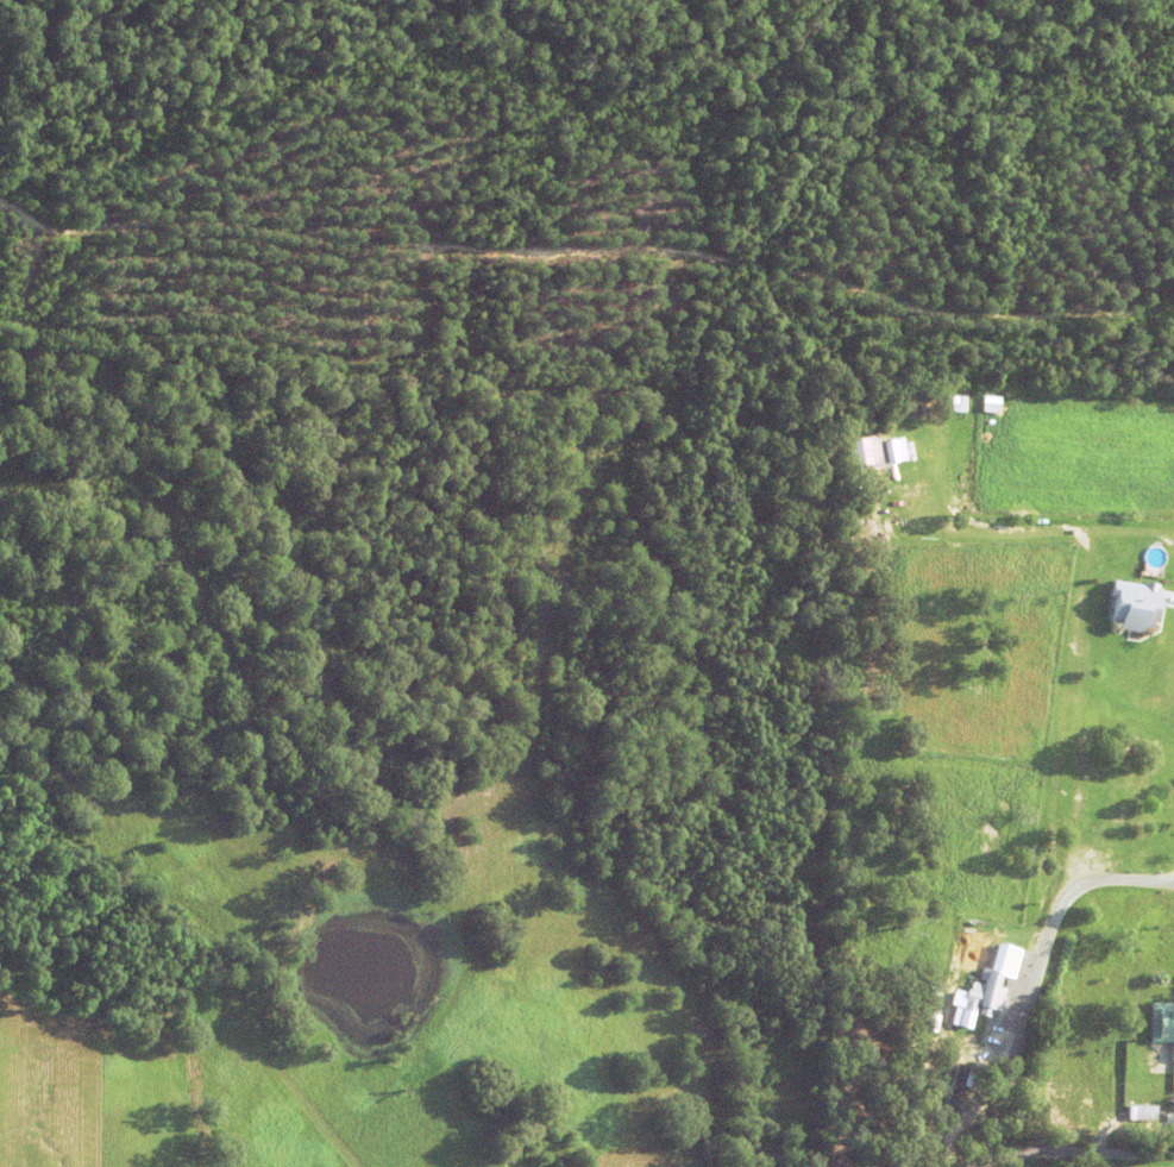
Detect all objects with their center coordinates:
building: (956, 402)
building: (865, 448)
building: (892, 448)
building: (1135, 600)
building: (1145, 814)
building: (998, 959)
building: (984, 987)
building: (937, 1016)
building: (1162, 1021)
building: (878, 1030)
building: (954, 1084)
building: (921, 1096)
building: (1142, 1116)
road: (973, 1161)

